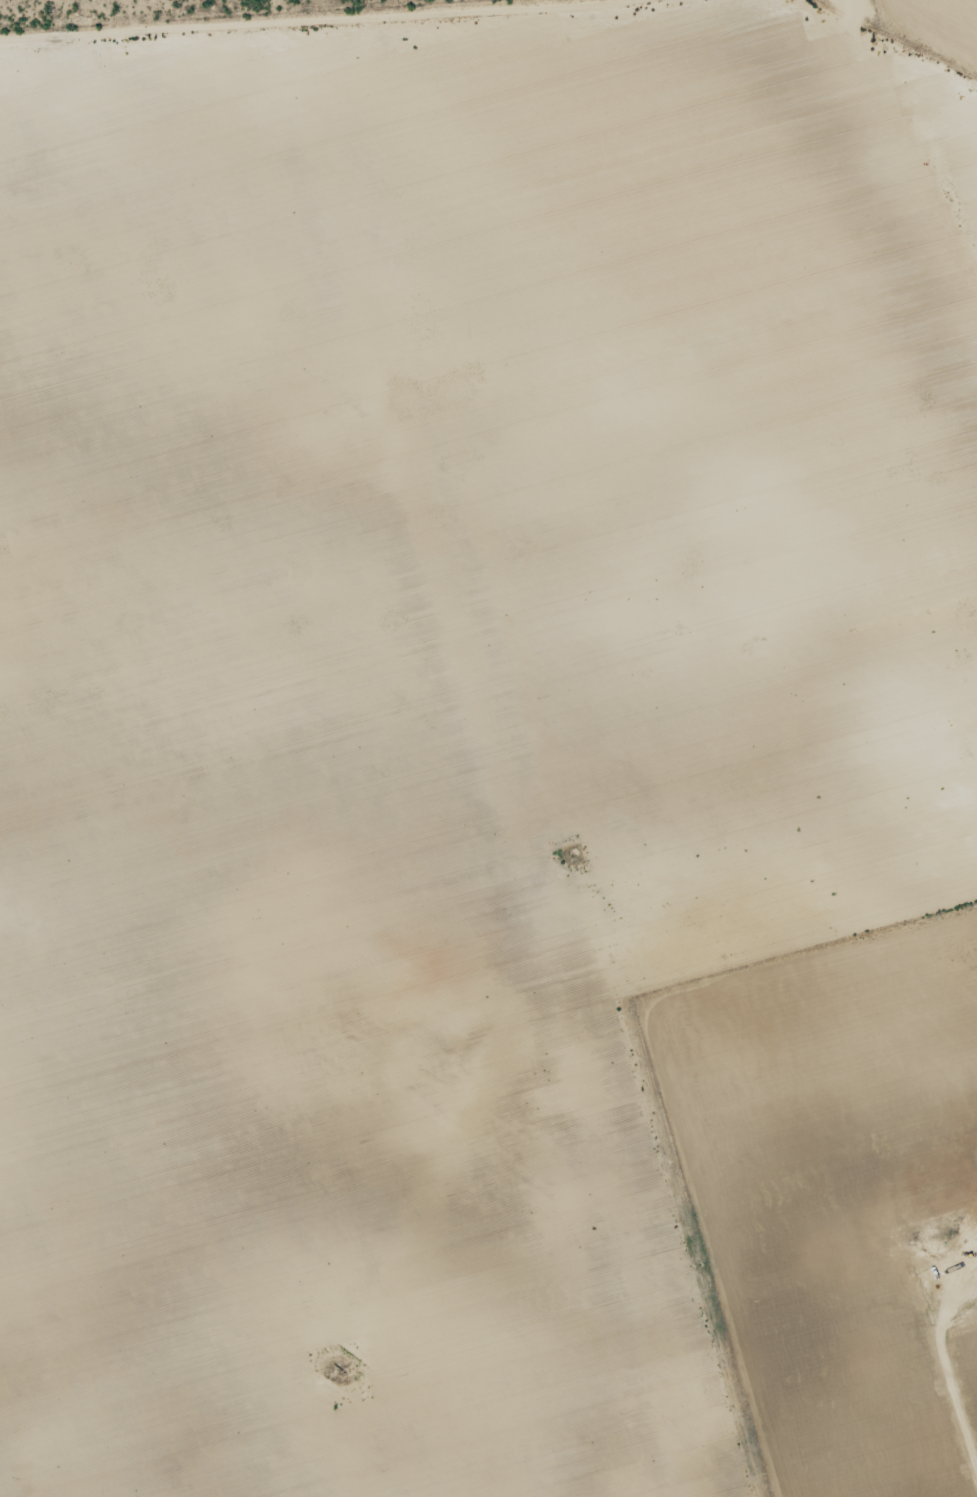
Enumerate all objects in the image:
river: (861, 151)

